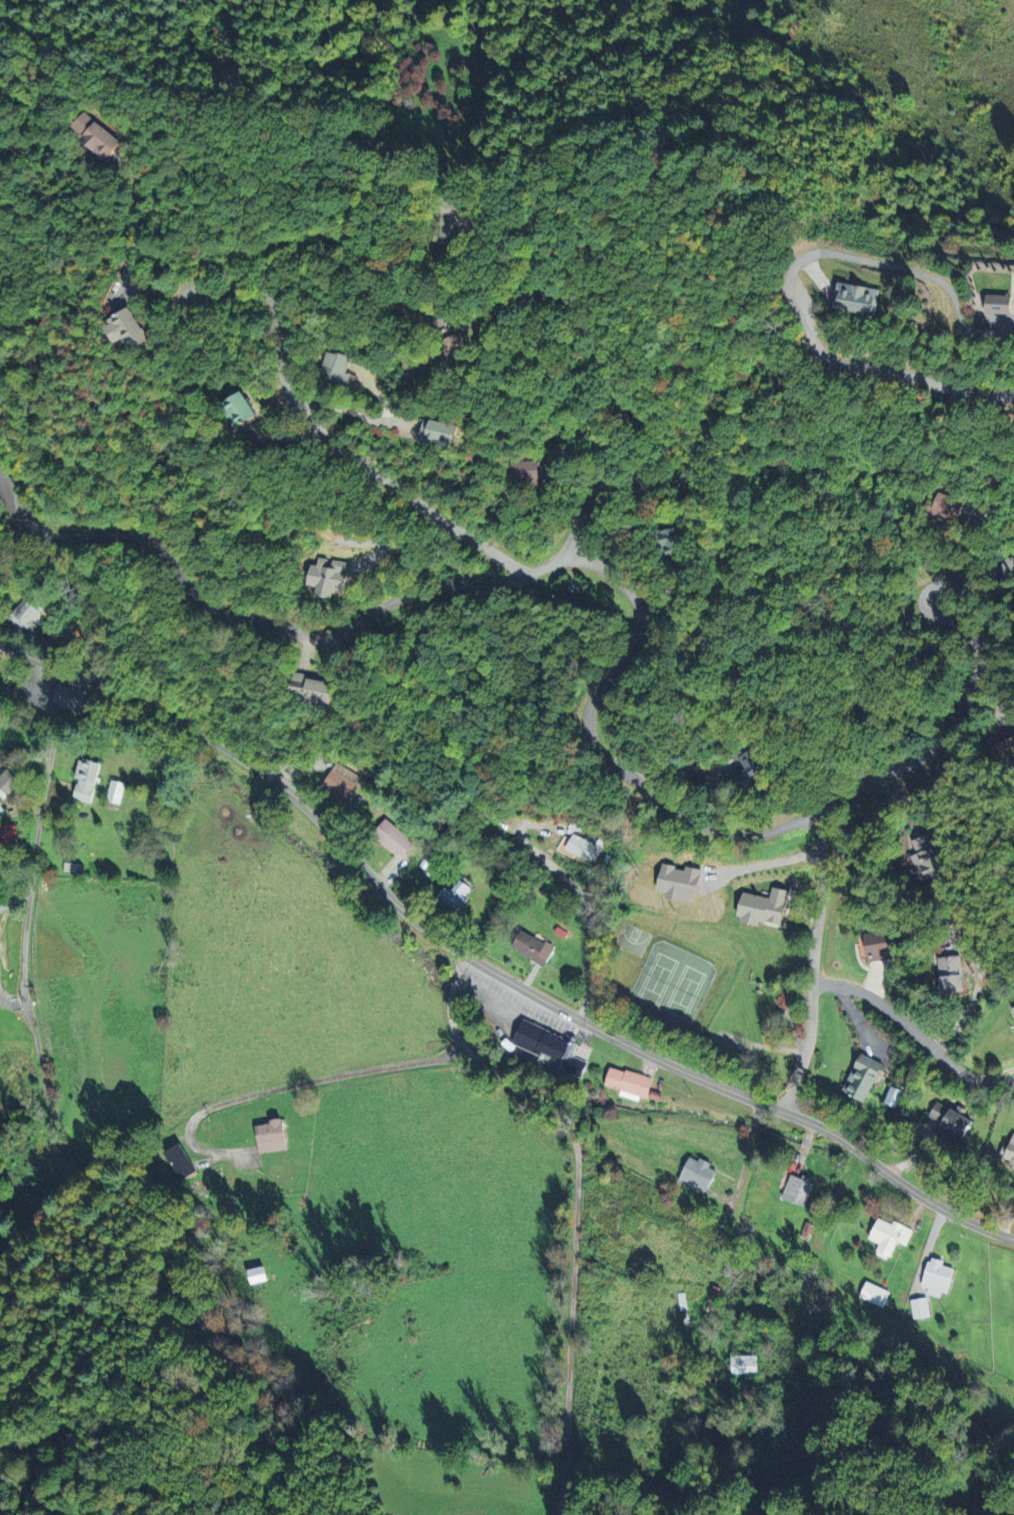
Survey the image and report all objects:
building: (97, 136)
building: (454, 220)
building: (864, 298)
road: (569, 303)
building: (1004, 303)
road: (950, 311)
building: (127, 328)
road: (1005, 336)
building: (454, 346)
road: (817, 349)
building: (338, 366)
building: (239, 409)
road: (350, 409)
building: (439, 433)
road: (328, 434)
building: (526, 472)
road: (600, 494)
building: (951, 505)
road: (1001, 514)
building: (669, 541)
building: (330, 576)
road: (495, 576)
building: (24, 617)
building: (314, 688)
building: (68, 697)
road: (713, 701)
building: (1006, 747)
building: (749, 769)
road: (868, 778)
building: (86, 779)
building: (341, 780)
building: (8, 781)
building: (115, 791)
building: (393, 838)
building: (583, 847)
building: (925, 858)
building: (681, 882)
building: (456, 895)
building: (764, 907)
road: (587, 914)
park: (631, 940)
building: (533, 947)
road: (489, 966)
road: (25, 970)
building: (951, 973)
park: (671, 984)
road: (975, 994)
road: (450, 997)
road: (916, 1034)
building: (550, 1048)
building: (864, 1077)
road: (313, 1080)
building: (629, 1083)
building: (893, 1096)
building: (952, 1120)
building: (271, 1136)
building: (1008, 1152)
building: (177, 1160)
building: (698, 1175)
building: (798, 1189)
building: (889, 1236)
road: (573, 1251)
building: (258, 1275)
building: (937, 1278)
building: (875, 1294)
building: (920, 1308)
building: (744, 1364)

